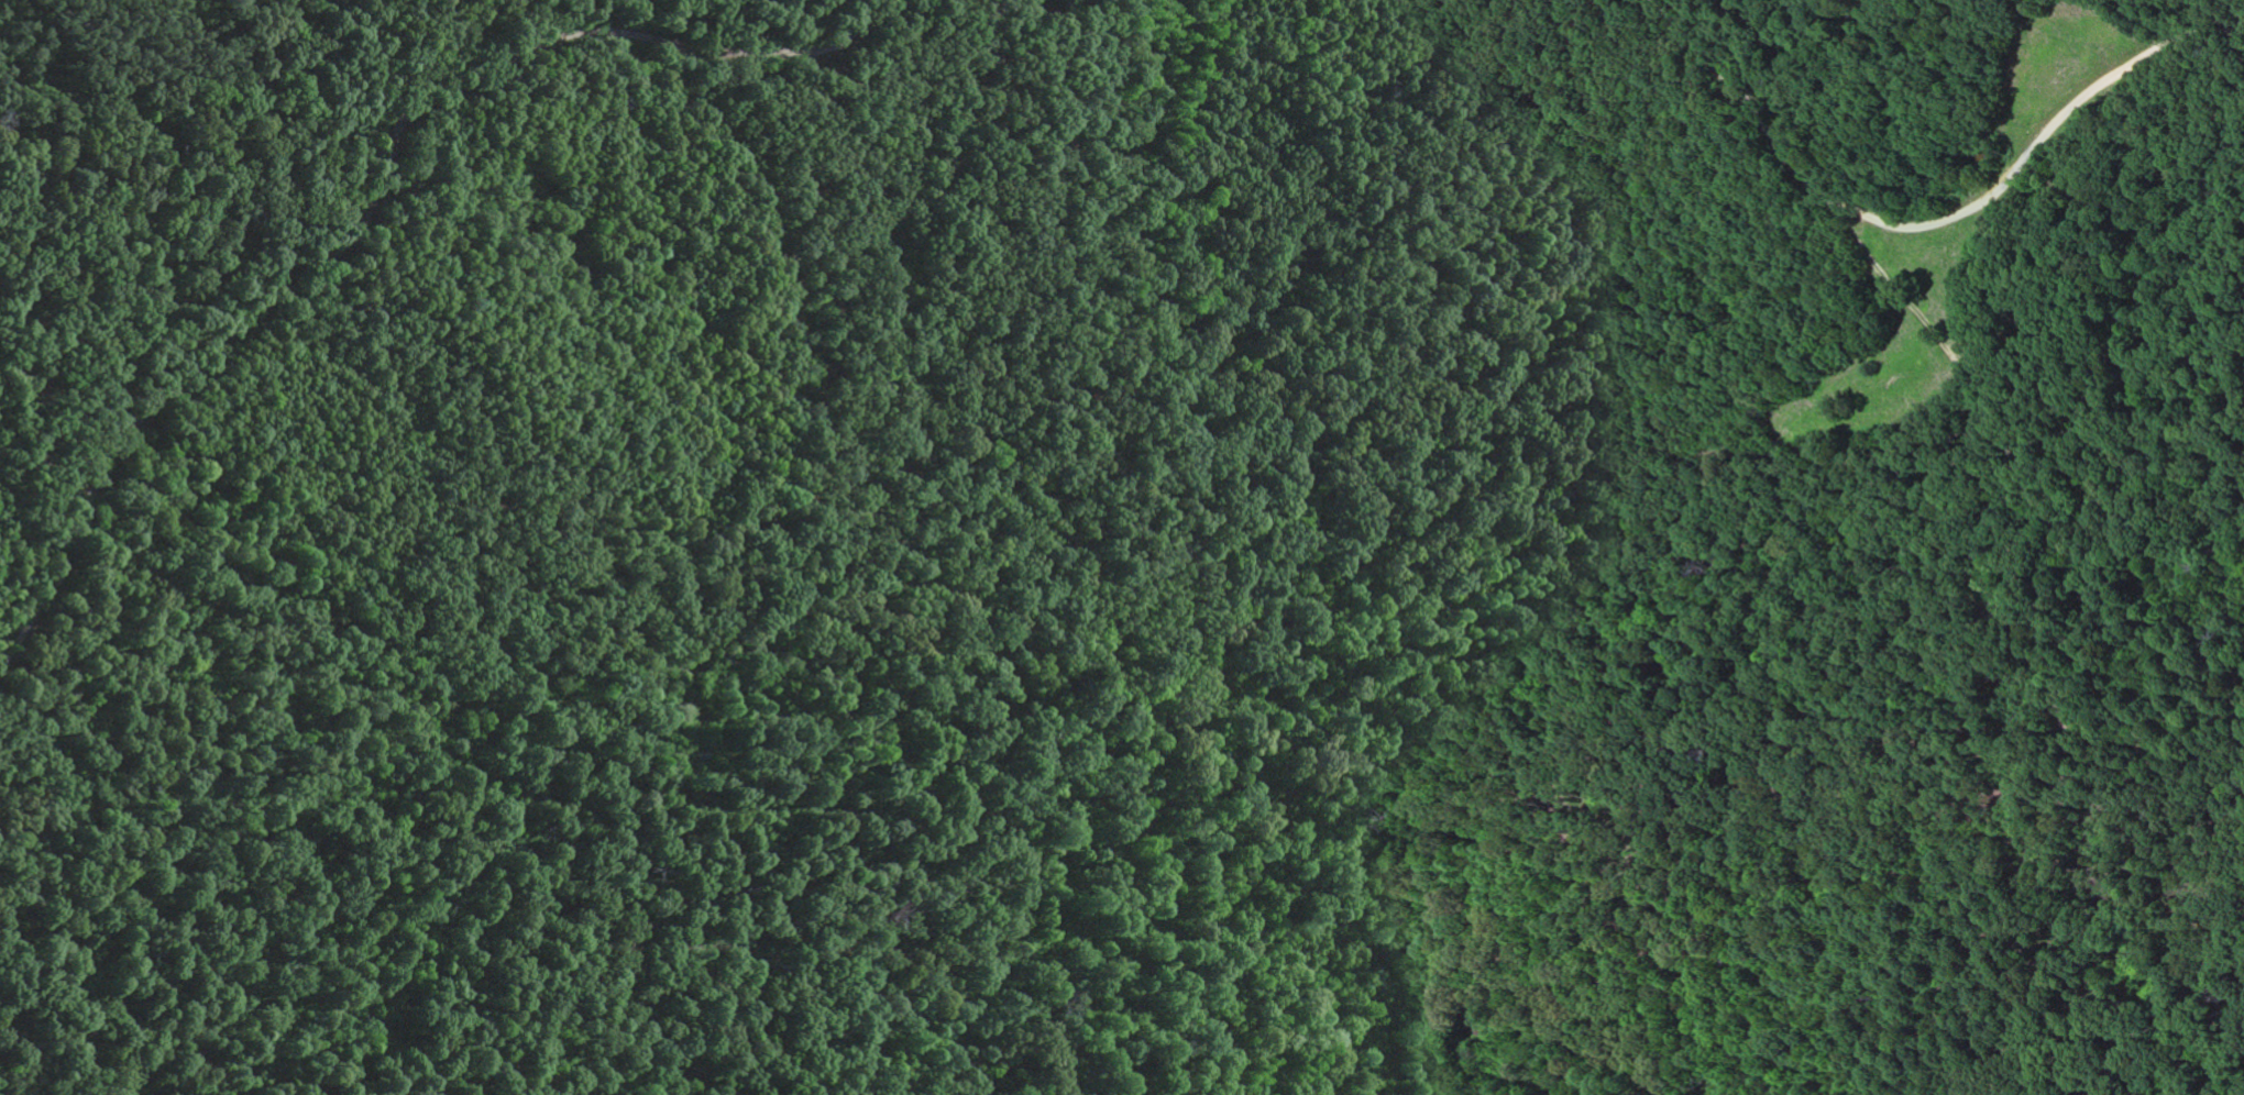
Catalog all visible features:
road: (373, 199)
road: (1935, 221)

